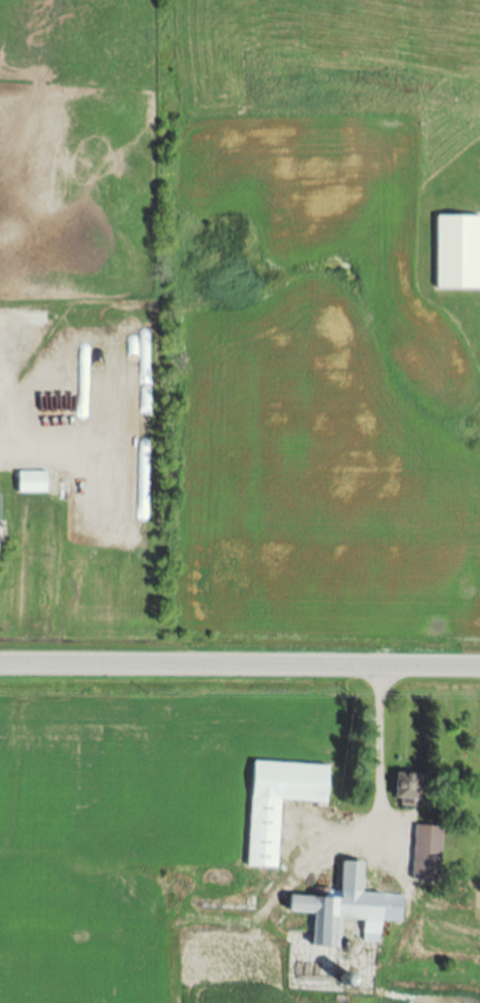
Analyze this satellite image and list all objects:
building: (457, 253)
building: (33, 483)
building: (1, 528)
road: (240, 666)
road: (381, 754)
building: (415, 788)
building: (280, 805)
building: (429, 858)
building: (349, 910)

